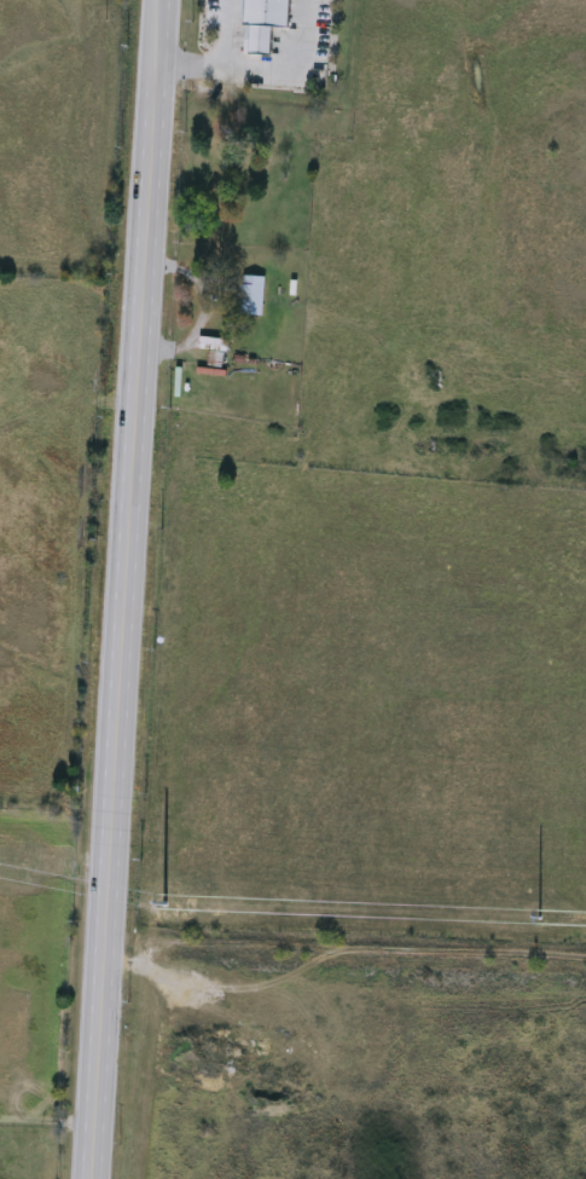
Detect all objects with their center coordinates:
building: (302, 34)
road: (253, 69)
building: (198, 81)
building: (396, 201)
building: (254, 296)
building: (396, 422)
road: (112, 589)

